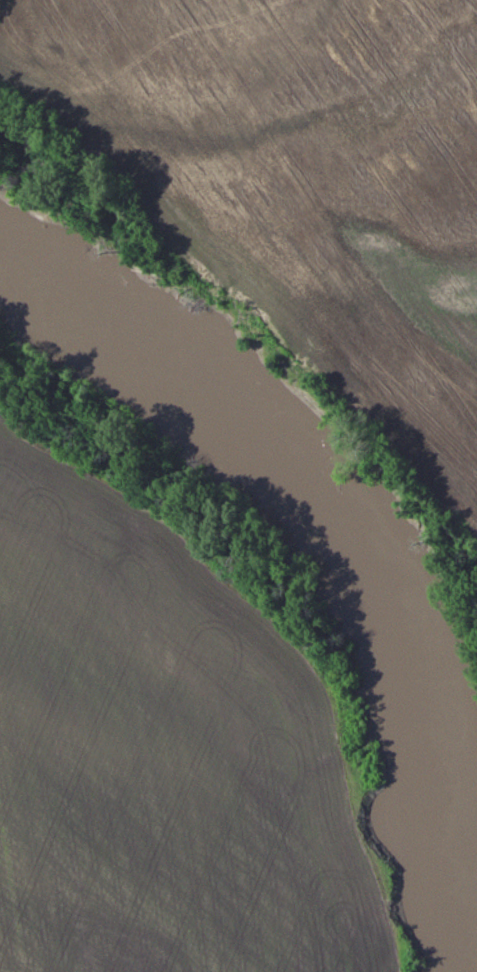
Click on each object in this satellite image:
river: (308, 507)

